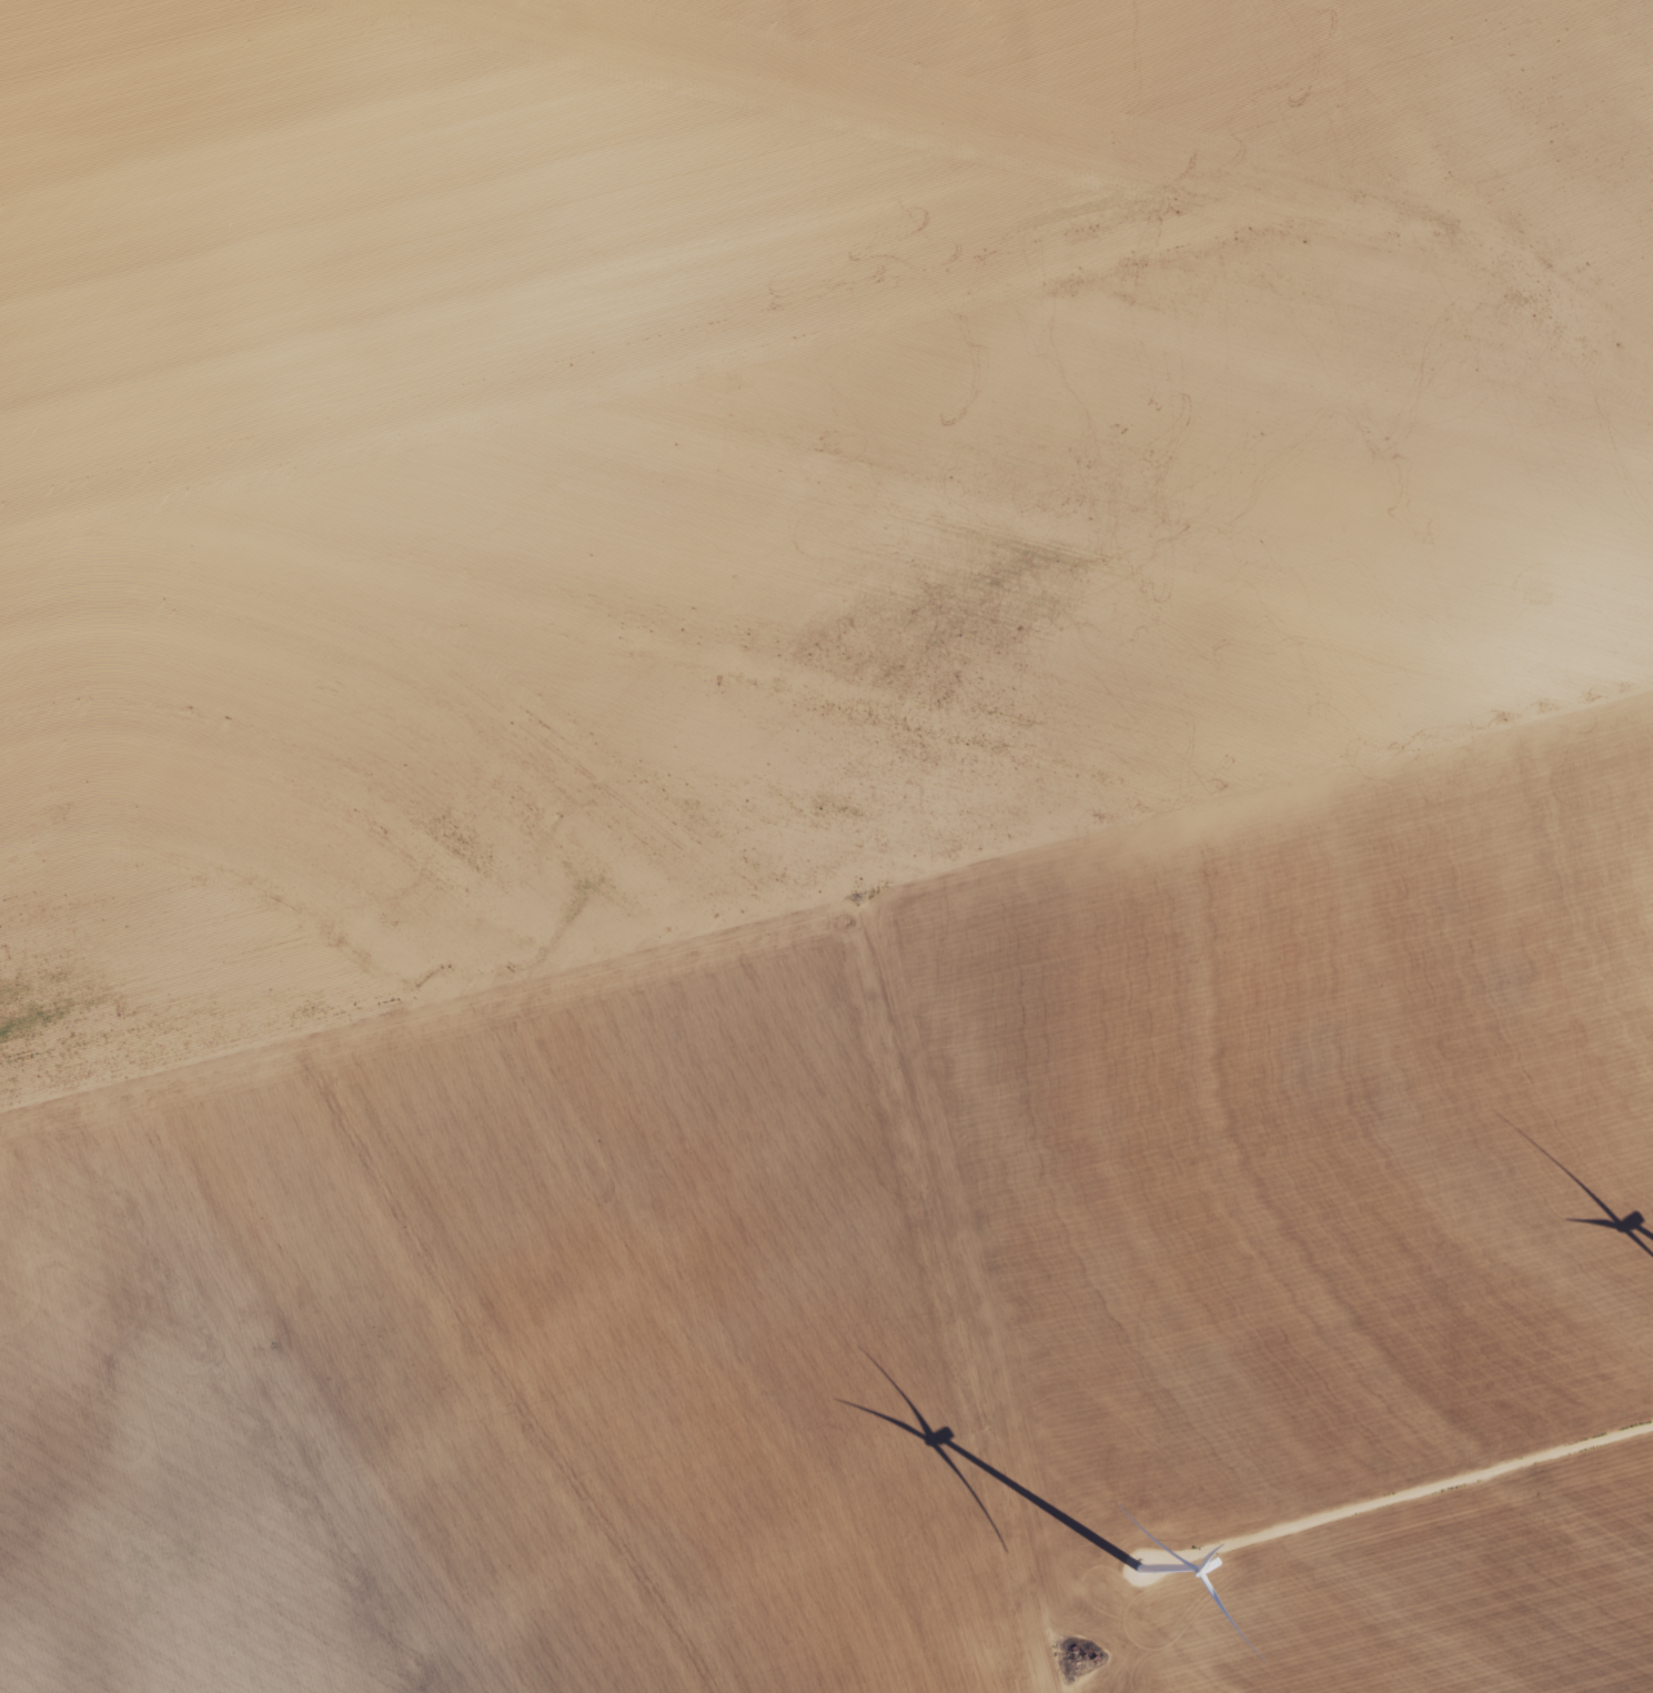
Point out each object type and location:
wind turbine: (1137, 1571)

